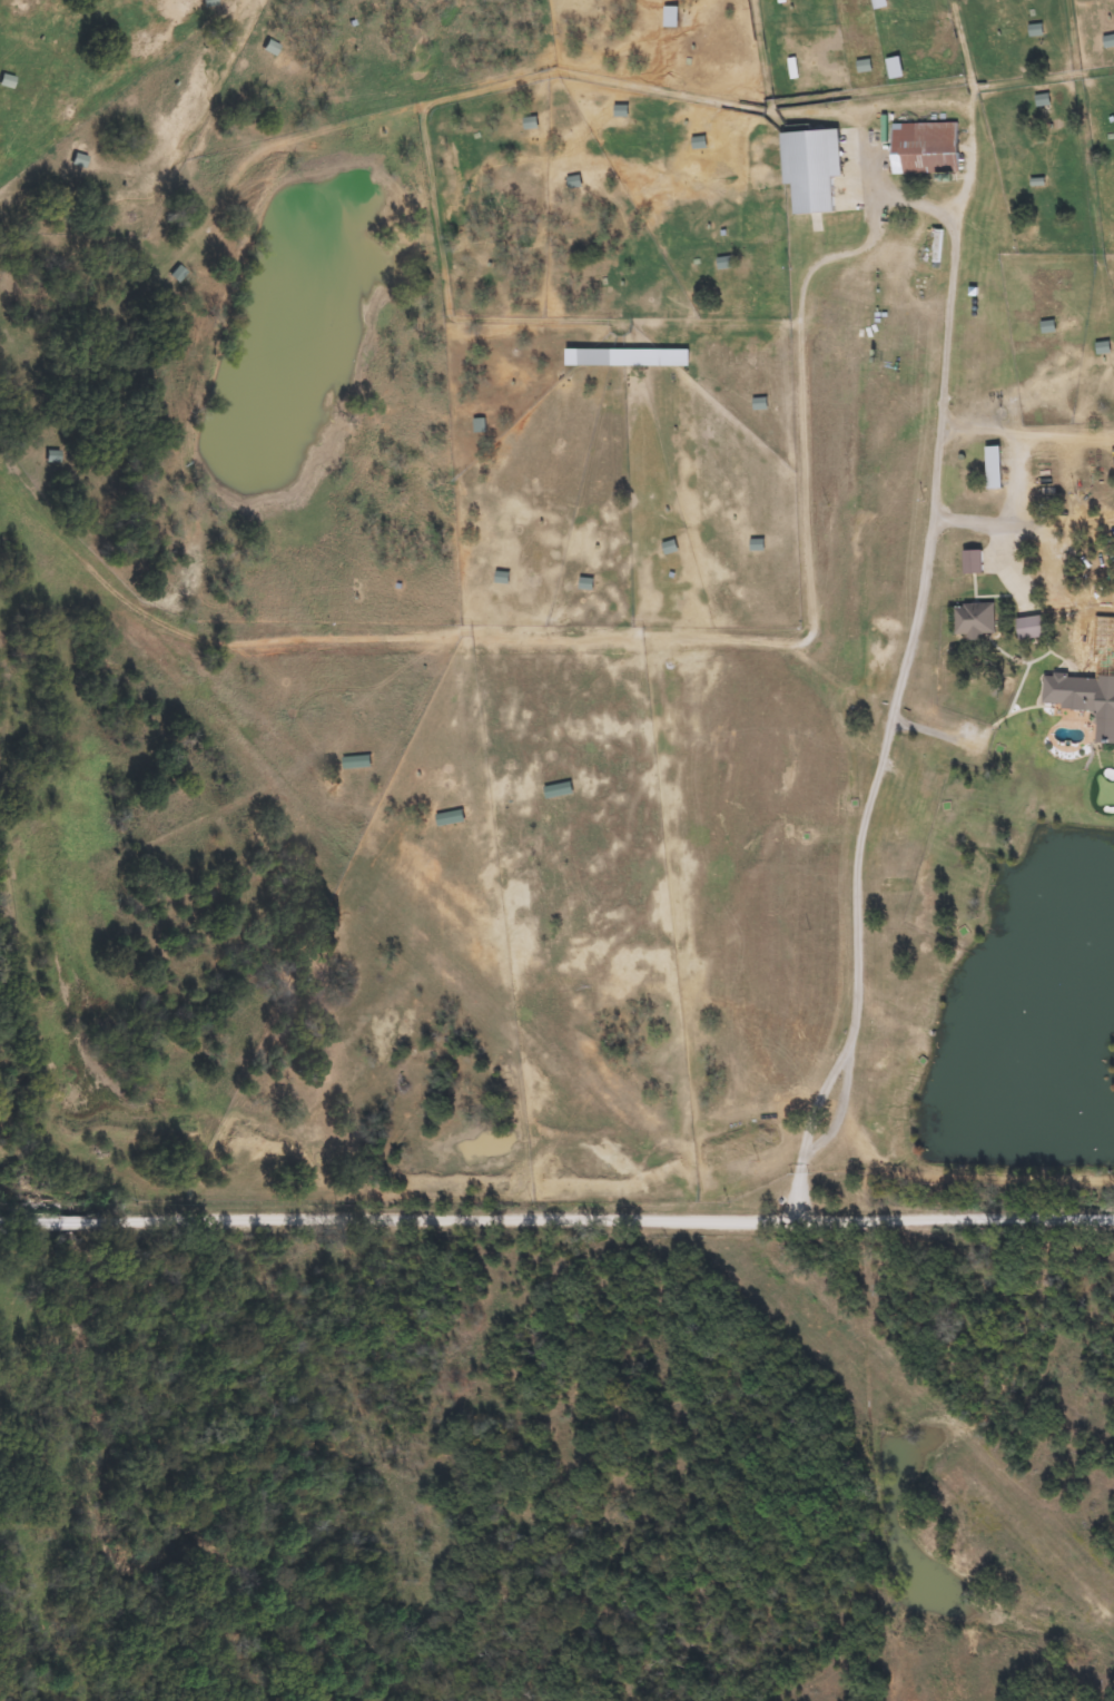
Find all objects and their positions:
building: (876, 3)
building: (669, 16)
building: (272, 47)
building: (8, 81)
road: (729, 106)
road: (785, 128)
building: (920, 148)
building: (80, 160)
building: (808, 168)
road: (1025, 433)
building: (989, 468)
road: (1007, 514)
building: (969, 620)
building: (1026, 628)
road: (643, 640)
building: (1067, 692)
road: (891, 704)
road: (556, 1249)

